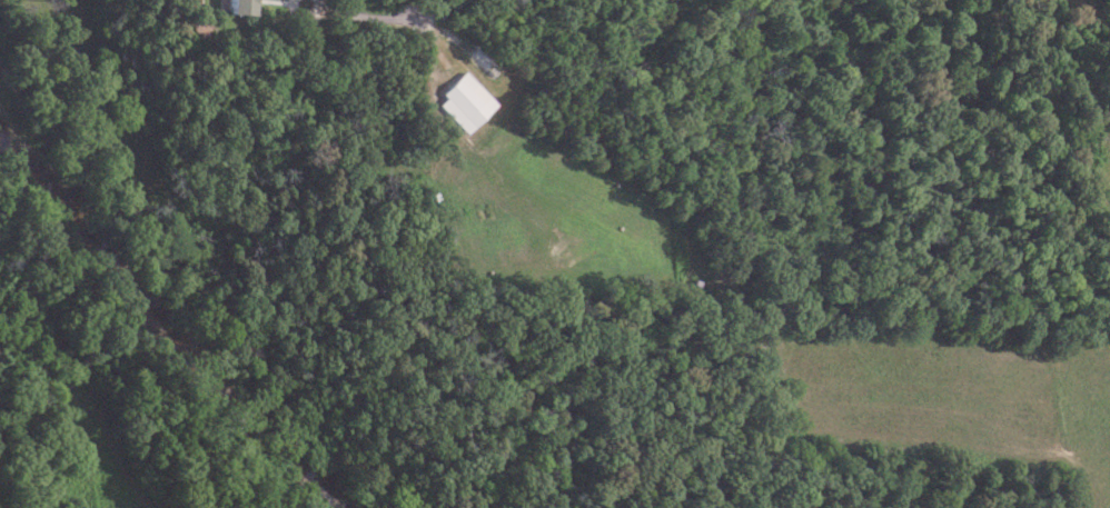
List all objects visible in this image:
building: (236, 7)
road: (378, 17)
building: (463, 96)

